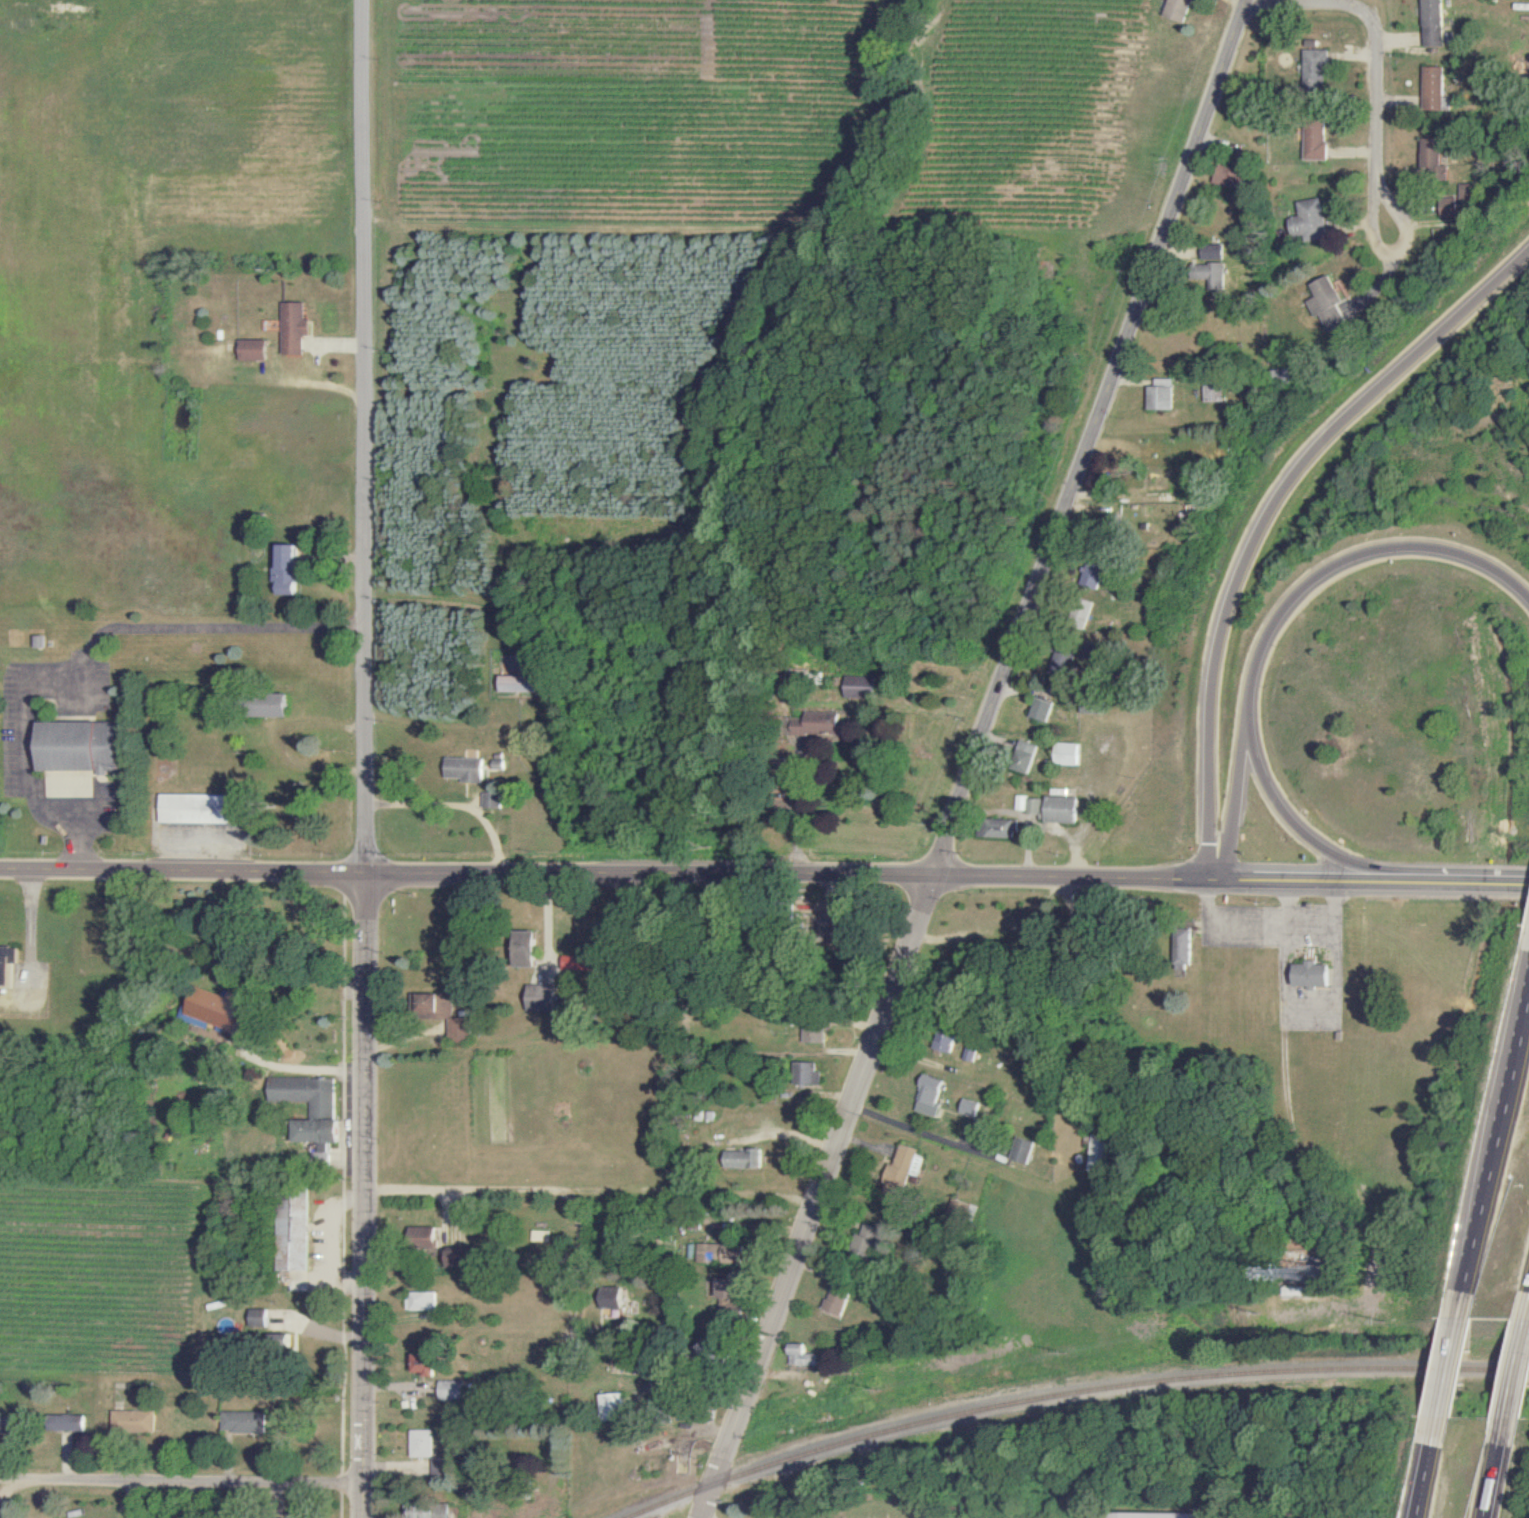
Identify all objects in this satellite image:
road: (1248, 0)
building: (1179, 9)
building: (1435, 24)
building: (1316, 66)
road: (1374, 87)
building: (1434, 87)
building: (1316, 141)
building: (1432, 153)
building: (1229, 179)
building: (1309, 220)
building: (1212, 252)
building: (1211, 275)
road: (1400, 275)
building: (1327, 304)
building: (294, 328)
building: (253, 350)
building: (1213, 393)
building: (1161, 395)
road: (1270, 513)
building: (289, 571)
road: (1263, 642)
road: (93, 645)
building: (524, 684)
building: (860, 687)
building: (1043, 709)
building: (82, 747)
road: (974, 758)
building: (1026, 758)
road: (364, 759)
building: (498, 765)
building: (465, 770)
road: (1235, 793)
building: (1020, 803)
building: (1036, 807)
building: (200, 809)
building: (1061, 810)
building: (1003, 829)
road: (764, 875)
building: (528, 948)
building: (7, 964)
building: (1310, 978)
building: (541, 999)
building: (220, 1013)
building: (445, 1016)
building: (814, 1033)
building: (970, 1053)
road: (294, 1064)
building: (808, 1074)
building: (929, 1097)
building: (970, 1108)
building: (311, 1109)
building: (1101, 1154)
road: (1494, 1157)
building: (743, 1159)
building: (902, 1171)
road: (591, 1202)
building: (293, 1234)
building: (424, 1238)
building: (866, 1243)
road: (330, 1245)
building: (706, 1253)
building: (726, 1289)
building: (610, 1299)
building: (837, 1299)
building: (420, 1301)
road: (1527, 1313)
building: (258, 1318)
building: (799, 1355)
building: (425, 1364)
road: (1449, 1369)
road: (1515, 1371)
building: (449, 1390)
railway: (1075, 1396)
building: (610, 1406)
building: (3, 1419)
building: (135, 1421)
building: (69, 1422)
building: (244, 1422)
building: (421, 1443)
road: (1428, 1468)
road: (1494, 1469)
road: (19, 1480)
road: (193, 1484)
building: (432, 1511)
building: (321, 1517)

